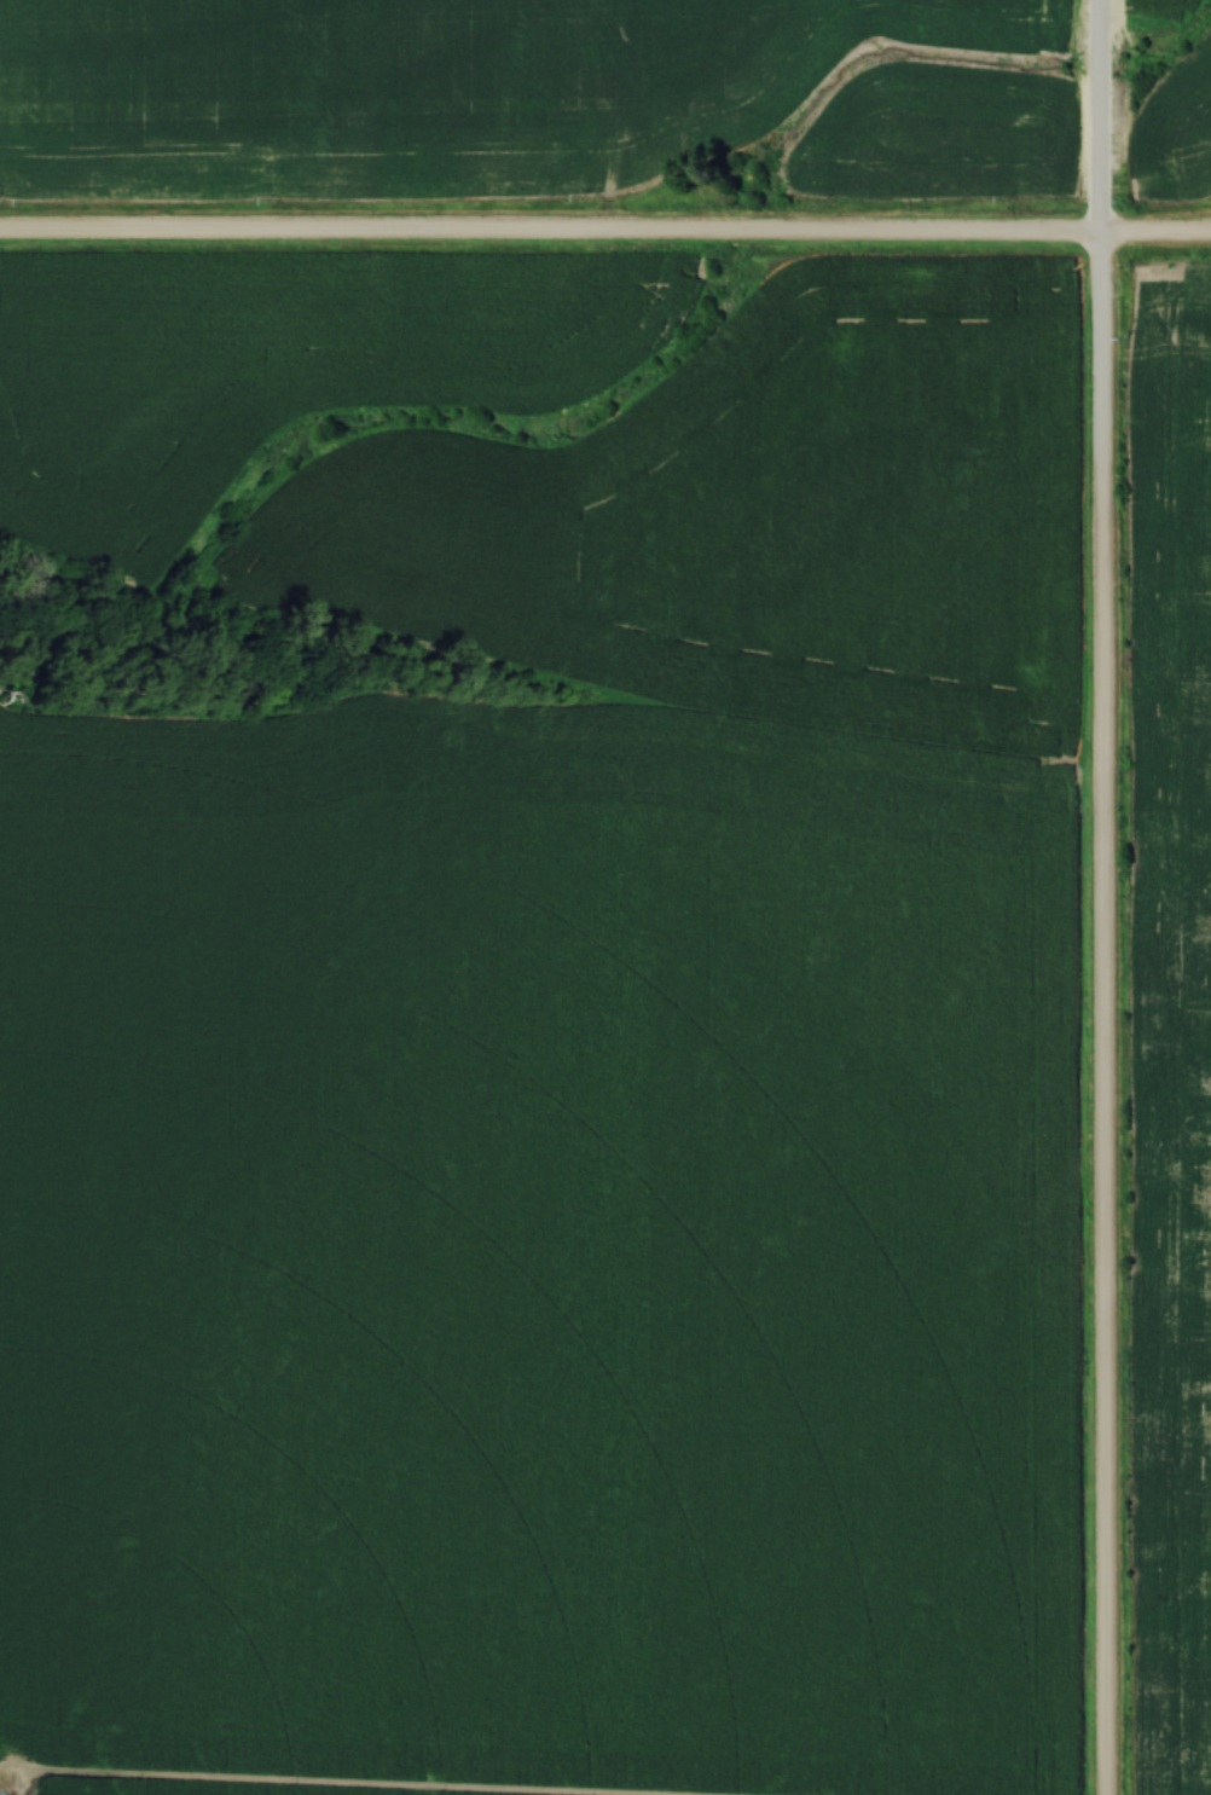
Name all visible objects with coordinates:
road: (605, 233)
road: (1100, 897)

